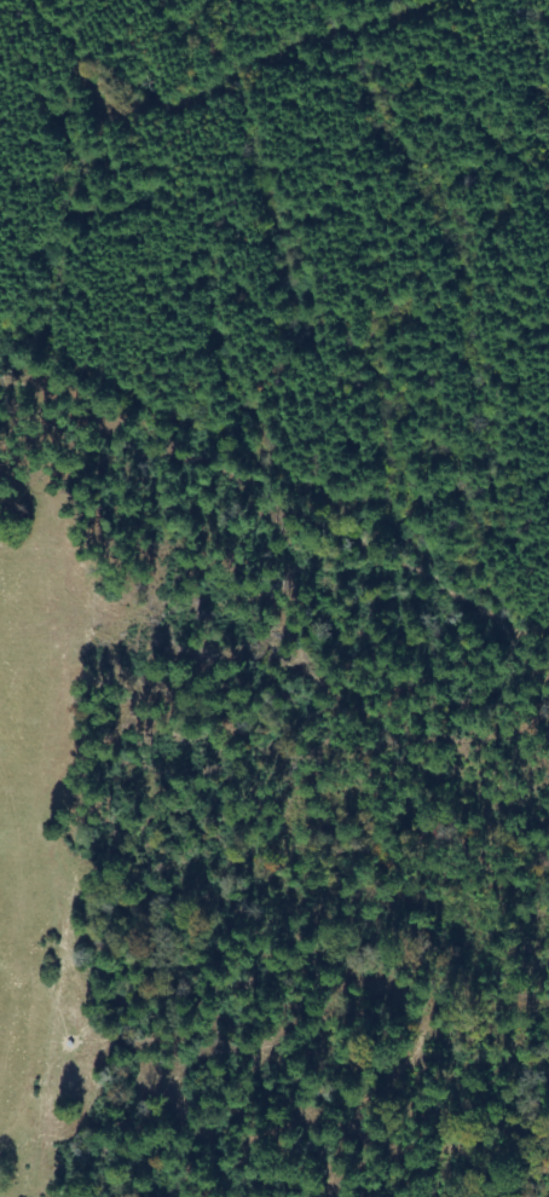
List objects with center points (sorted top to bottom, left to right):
road: (53, 796)

